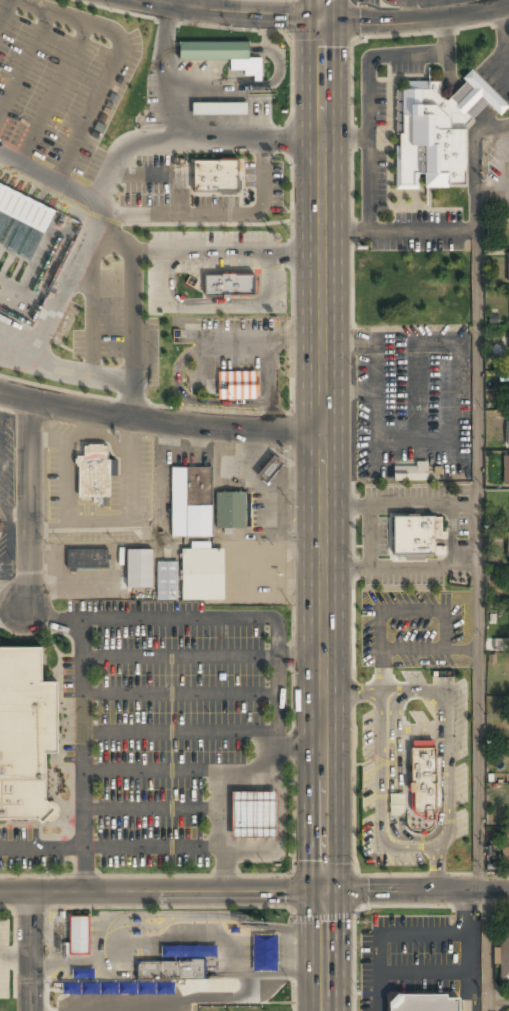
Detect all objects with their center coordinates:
road: (494, 4)
parking lot: (386, 5)
road: (407, 12)
road: (232, 15)
road: (7, 16)
road: (416, 23)
traffic signals: (323, 24)
building: (224, 56)
road: (121, 63)
road: (29, 68)
parking lot: (60, 90)
road: (368, 90)
road: (62, 94)
building: (220, 110)
building: (437, 132)
road: (192, 141)
road: (165, 174)
building: (214, 177)
parking lot: (147, 182)
parking lot: (264, 183)
parking lot: (215, 201)
building: (25, 208)
road: (159, 214)
road: (400, 230)
building: (508, 269)
road: (65, 284)
building: (230, 286)
road: (133, 312)
road: (352, 341)
road: (81, 372)
building: (241, 384)
road: (376, 389)
road: (161, 423)
building: (508, 434)
building: (270, 470)
building: (506, 471)
building: (410, 472)
building: (95, 473)
road: (29, 500)
building: (191, 503)
road: (325, 505)
building: (231, 511)
building: (414, 537)
building: (508, 546)
building: (87, 560)
road: (477, 560)
building: (139, 570)
building: (193, 577)
road: (85, 729)
parking lot: (168, 731)
building: (24, 732)
building: (423, 782)
building: (396, 804)
building: (253, 815)
gas station: (253, 815)
building: (505, 856)
road: (416, 890)
traffic signals: (325, 891)
road: (162, 892)
building: (79, 936)
building: (191, 951)
road: (28, 952)
building: (503, 958)
parking lot: (420, 961)
building: (170, 970)
road: (496, 1000)
building: (426, 1003)

